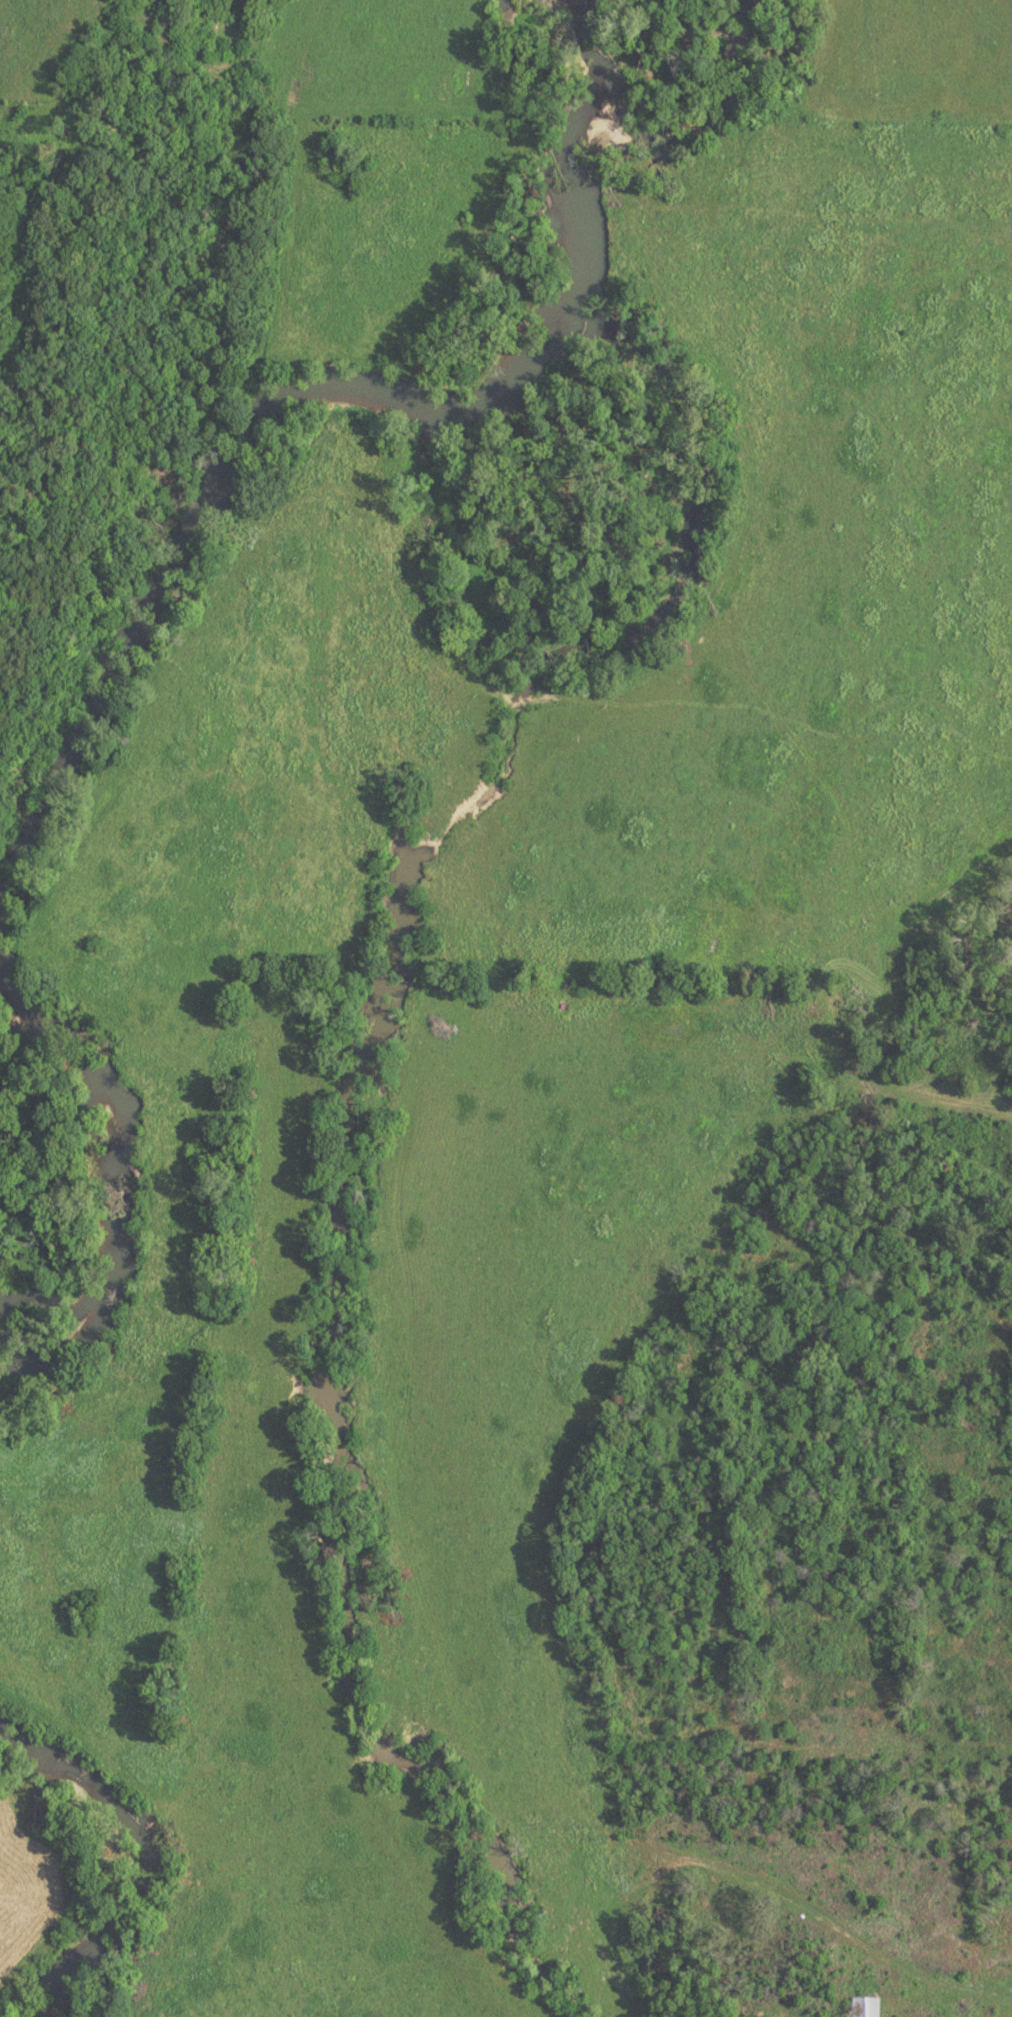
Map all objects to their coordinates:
river: (341, 401)
river: (111, 1153)
river: (92, 1871)
building: (862, 2007)

